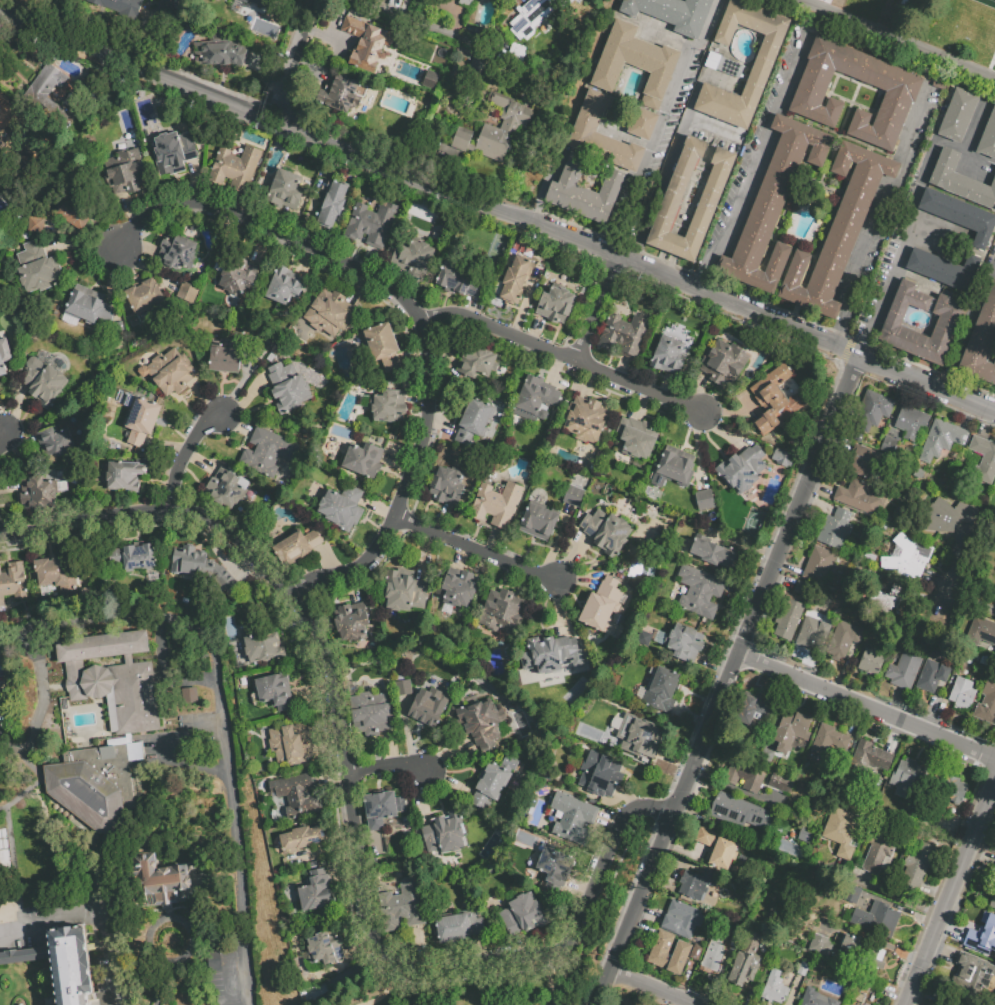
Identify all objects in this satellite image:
building: (219, 0)
building: (243, 1)
building: (262, 2)
building: (465, 2)
building: (120, 7)
building: (670, 15)
building: (530, 16)
road: (428, 25)
road: (899, 38)
building: (366, 42)
building: (222, 51)
road: (876, 55)
road: (290, 60)
building: (636, 65)
building: (764, 66)
road: (134, 67)
building: (428, 78)
building: (941, 84)
parking lot: (774, 91)
building: (46, 93)
building: (341, 93)
building: (902, 96)
building: (2, 104)
parking lot: (681, 104)
building: (959, 116)
building: (643, 124)
road: (661, 125)
parking lot: (925, 125)
road: (978, 126)
road: (715, 127)
building: (495, 130)
building: (603, 137)
building: (989, 140)
parking lot: (716, 141)
building: (174, 153)
road: (674, 157)
building: (235, 169)
road: (394, 170)
building: (125, 174)
building: (0, 177)
building: (961, 182)
road: (195, 183)
building: (285, 192)
building: (586, 194)
building: (673, 200)
road: (234, 202)
parking lot: (730, 202)
building: (332, 205)
building: (774, 207)
road: (128, 210)
road: (312, 212)
building: (75, 214)
building: (961, 217)
road: (284, 221)
building: (372, 225)
road: (916, 225)
building: (36, 226)
building: (840, 232)
road: (83, 235)
road: (81, 246)
road: (261, 247)
park: (498, 248)
road: (144, 249)
building: (178, 253)
building: (414, 260)
road: (369, 261)
road: (305, 263)
building: (37, 270)
road: (148, 270)
building: (946, 271)
parking lot: (875, 272)
road: (111, 277)
building: (237, 278)
road: (397, 281)
building: (461, 282)
building: (516, 282)
building: (285, 287)
road: (358, 290)
building: (188, 293)
building: (144, 297)
road: (526, 303)
building: (88, 307)
road: (469, 307)
building: (556, 307)
road: (597, 310)
building: (330, 314)
road: (757, 316)
road: (417, 318)
building: (949, 323)
road: (968, 323)
road: (538, 331)
parking lot: (856, 331)
building: (625, 335)
building: (981, 342)
building: (258, 350)
building: (381, 350)
building: (4, 355)
road: (412, 356)
road: (563, 356)
building: (669, 357)
building: (225, 358)
road: (444, 359)
building: (476, 363)
building: (724, 364)
road: (624, 369)
road: (555, 370)
building: (169, 373)
building: (44, 384)
road: (241, 384)
road: (590, 384)
road: (667, 385)
building: (288, 389)
road: (700, 392)
road: (250, 397)
building: (538, 397)
road: (205, 399)
road: (417, 399)
building: (775, 401)
road: (641, 406)
building: (389, 407)
road: (17, 410)
building: (873, 412)
road: (733, 415)
building: (585, 420)
building: (142, 422)
building: (475, 422)
road: (235, 426)
road: (442, 426)
road: (2, 429)
building: (905, 429)
road: (2, 434)
road: (723, 435)
building: (944, 438)
building: (638, 439)
road: (19, 443)
building: (56, 444)
road: (165, 448)
road: (184, 452)
road: (699, 452)
building: (269, 453)
building: (361, 459)
building: (783, 460)
building: (984, 461)
road: (201, 463)
building: (866, 463)
road: (397, 464)
building: (676, 467)
road: (162, 471)
building: (743, 471)
building: (919, 474)
building: (126, 477)
road: (11, 487)
building: (446, 487)
building: (226, 490)
road: (821, 490)
building: (37, 494)
building: (574, 497)
building: (857, 497)
building: (706, 501)
building: (497, 505)
road: (818, 506)
building: (342, 507)
road: (377, 508)
building: (947, 518)
road: (441, 519)
building: (539, 523)
building: (835, 529)
road: (115, 532)
building: (608, 533)
road: (736, 541)
road: (492, 542)
road: (559, 542)
road: (732, 546)
building: (296, 548)
building: (702, 549)
road: (475, 550)
building: (901, 550)
building: (134, 556)
road: (425, 556)
building: (721, 558)
road: (222, 559)
road: (325, 559)
road: (459, 560)
road: (89, 562)
road: (575, 562)
building: (199, 564)
building: (892, 564)
building: (819, 565)
road: (788, 568)
road: (235, 570)
building: (53, 574)
road: (927, 574)
road: (597, 576)
building: (12, 582)
road: (781, 582)
road: (947, 583)
road: (524, 585)
building: (458, 589)
building: (403, 590)
building: (802, 590)
road: (354, 592)
building: (699, 592)
road: (738, 597)
building: (888, 599)
road: (928, 601)
building: (604, 606)
road: (561, 610)
building: (501, 612)
building: (787, 618)
building: (350, 624)
road: (277, 626)
building: (980, 631)
building: (811, 632)
building: (843, 640)
building: (684, 643)
building: (263, 649)
building: (994, 653)
building: (552, 655)
building: (871, 661)
road: (813, 662)
building: (907, 662)
road: (712, 664)
road: (845, 669)
building: (932, 676)
building: (113, 678)
road: (852, 678)
road: (724, 680)
building: (404, 689)
building: (660, 689)
building: (275, 691)
road: (778, 691)
building: (187, 694)
road: (314, 694)
building: (962, 694)
building: (986, 702)
road: (897, 703)
building: (429, 705)
road: (40, 707)
road: (865, 707)
building: (754, 710)
road: (940, 711)
road: (933, 712)
building: (372, 715)
road: (781, 715)
road: (688, 717)
building: (482, 722)
road: (854, 722)
road: (408, 731)
building: (792, 732)
building: (640, 735)
road: (893, 738)
building: (829, 741)
building: (289, 744)
road: (392, 749)
road: (326, 750)
road: (448, 753)
building: (767, 758)
road: (672, 759)
building: (868, 761)
road: (389, 766)
road: (936, 767)
building: (601, 775)
building: (746, 777)
road: (331, 779)
building: (909, 781)
building: (492, 782)
building: (782, 784)
road: (452, 785)
building: (92, 787)
road: (232, 792)
building: (295, 792)
road: (737, 792)
building: (955, 792)
road: (424, 797)
road: (627, 798)
road: (351, 799)
building: (382, 808)
building: (741, 814)
road: (338, 815)
building: (572, 818)
road: (607, 821)
road: (721, 825)
road: (948, 828)
building: (444, 833)
building: (842, 833)
building: (808, 837)
building: (302, 839)
road: (983, 847)
road: (379, 848)
building: (719, 849)
road: (337, 850)
building: (3, 852)
road: (685, 852)
building: (879, 854)
road: (679, 864)
building: (919, 867)
building: (553, 868)
road: (883, 875)
road: (345, 879)
building: (697, 884)
road: (580, 885)
park: (616, 885)
building: (162, 886)
building: (315, 891)
road: (883, 893)
road: (950, 895)
building: (852, 896)
building: (992, 903)
building: (401, 905)
road: (900, 909)
building: (524, 913)
road: (649, 915)
road: (46, 921)
building: (683, 921)
building: (878, 921)
building: (459, 925)
building: (983, 931)
road: (105, 936)
road: (867, 939)
building: (753, 941)
building: (735, 942)
road: (522, 944)
road: (420, 946)
road: (480, 947)
building: (821, 947)
road: (359, 948)
building: (323, 949)
building: (697, 954)
building: (669, 955)
building: (714, 956)
building: (864, 956)
building: (62, 963)
building: (805, 970)
building: (744, 971)
road: (760, 971)
building: (846, 973)
road: (245, 974)
building: (971, 974)
parking lot: (216, 976)
road: (722, 976)
road: (550, 979)
road: (687, 981)
building: (863, 983)
road: (391, 988)
road: (650, 989)
road: (795, 990)
building: (775, 991)
road: (890, 991)
building: (817, 999)
road: (679, 1003)
road: (686, 1004)

